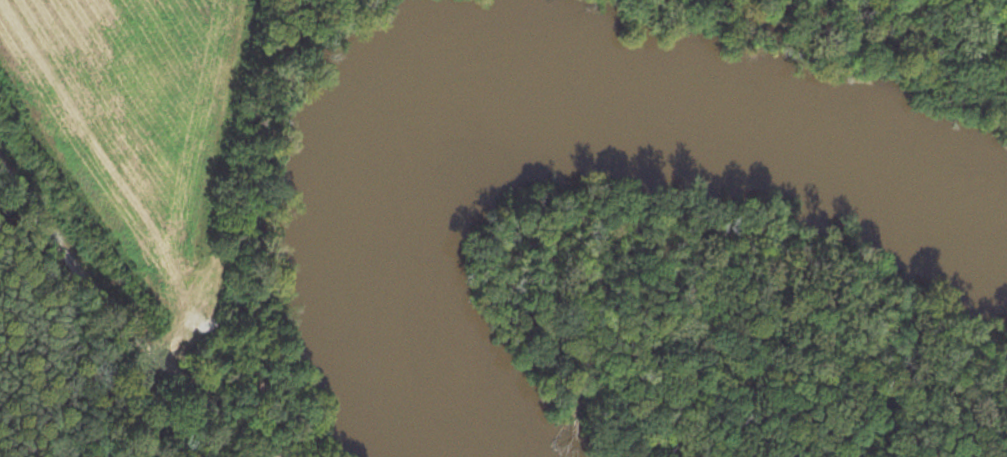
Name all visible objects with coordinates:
river: (529, 89)
road: (129, 278)

